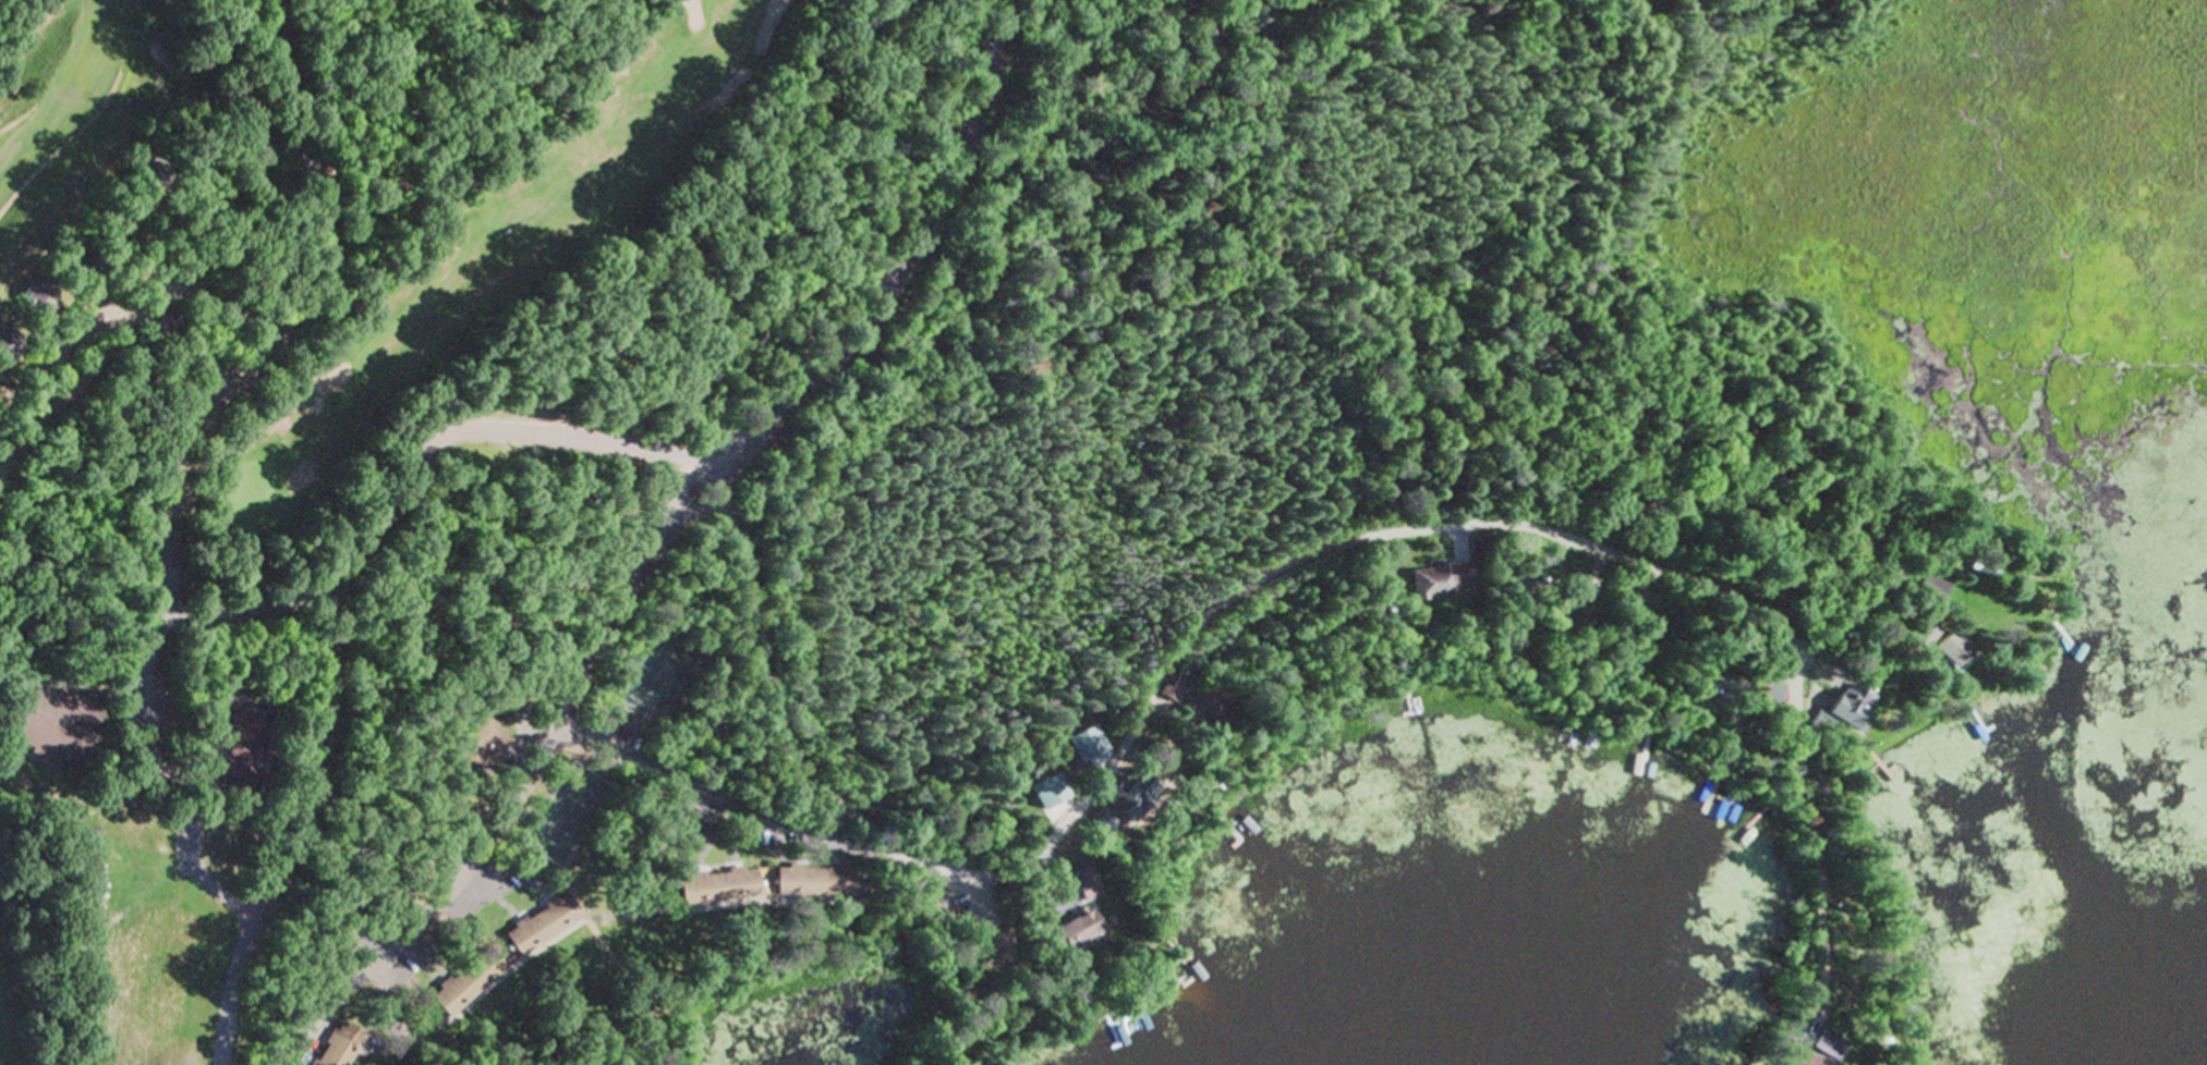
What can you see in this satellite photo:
park: (1879, 0)
park: (419, 109)
park: (463, 240)
road: (914, 268)
building: (33, 295)
building: (7, 348)
road: (238, 380)
park: (962, 461)
road: (680, 485)
building: (1434, 583)
building: (1928, 591)
road: (338, 615)
road: (1841, 621)
building: (1923, 637)
building: (1950, 652)
road: (1169, 662)
building: (1767, 694)
building: (1187, 703)
building: (1843, 714)
building: (51, 723)
park: (140, 742)
building: (480, 744)
road: (702, 794)
building: (1050, 799)
building: (1129, 799)
road: (512, 801)
building: (807, 883)
building: (1081, 884)
building: (712, 889)
road: (1816, 905)
building: (537, 926)
building: (1072, 934)
building: (462, 983)
park: (3, 1044)
building: (339, 1044)
building: (1818, 1051)

